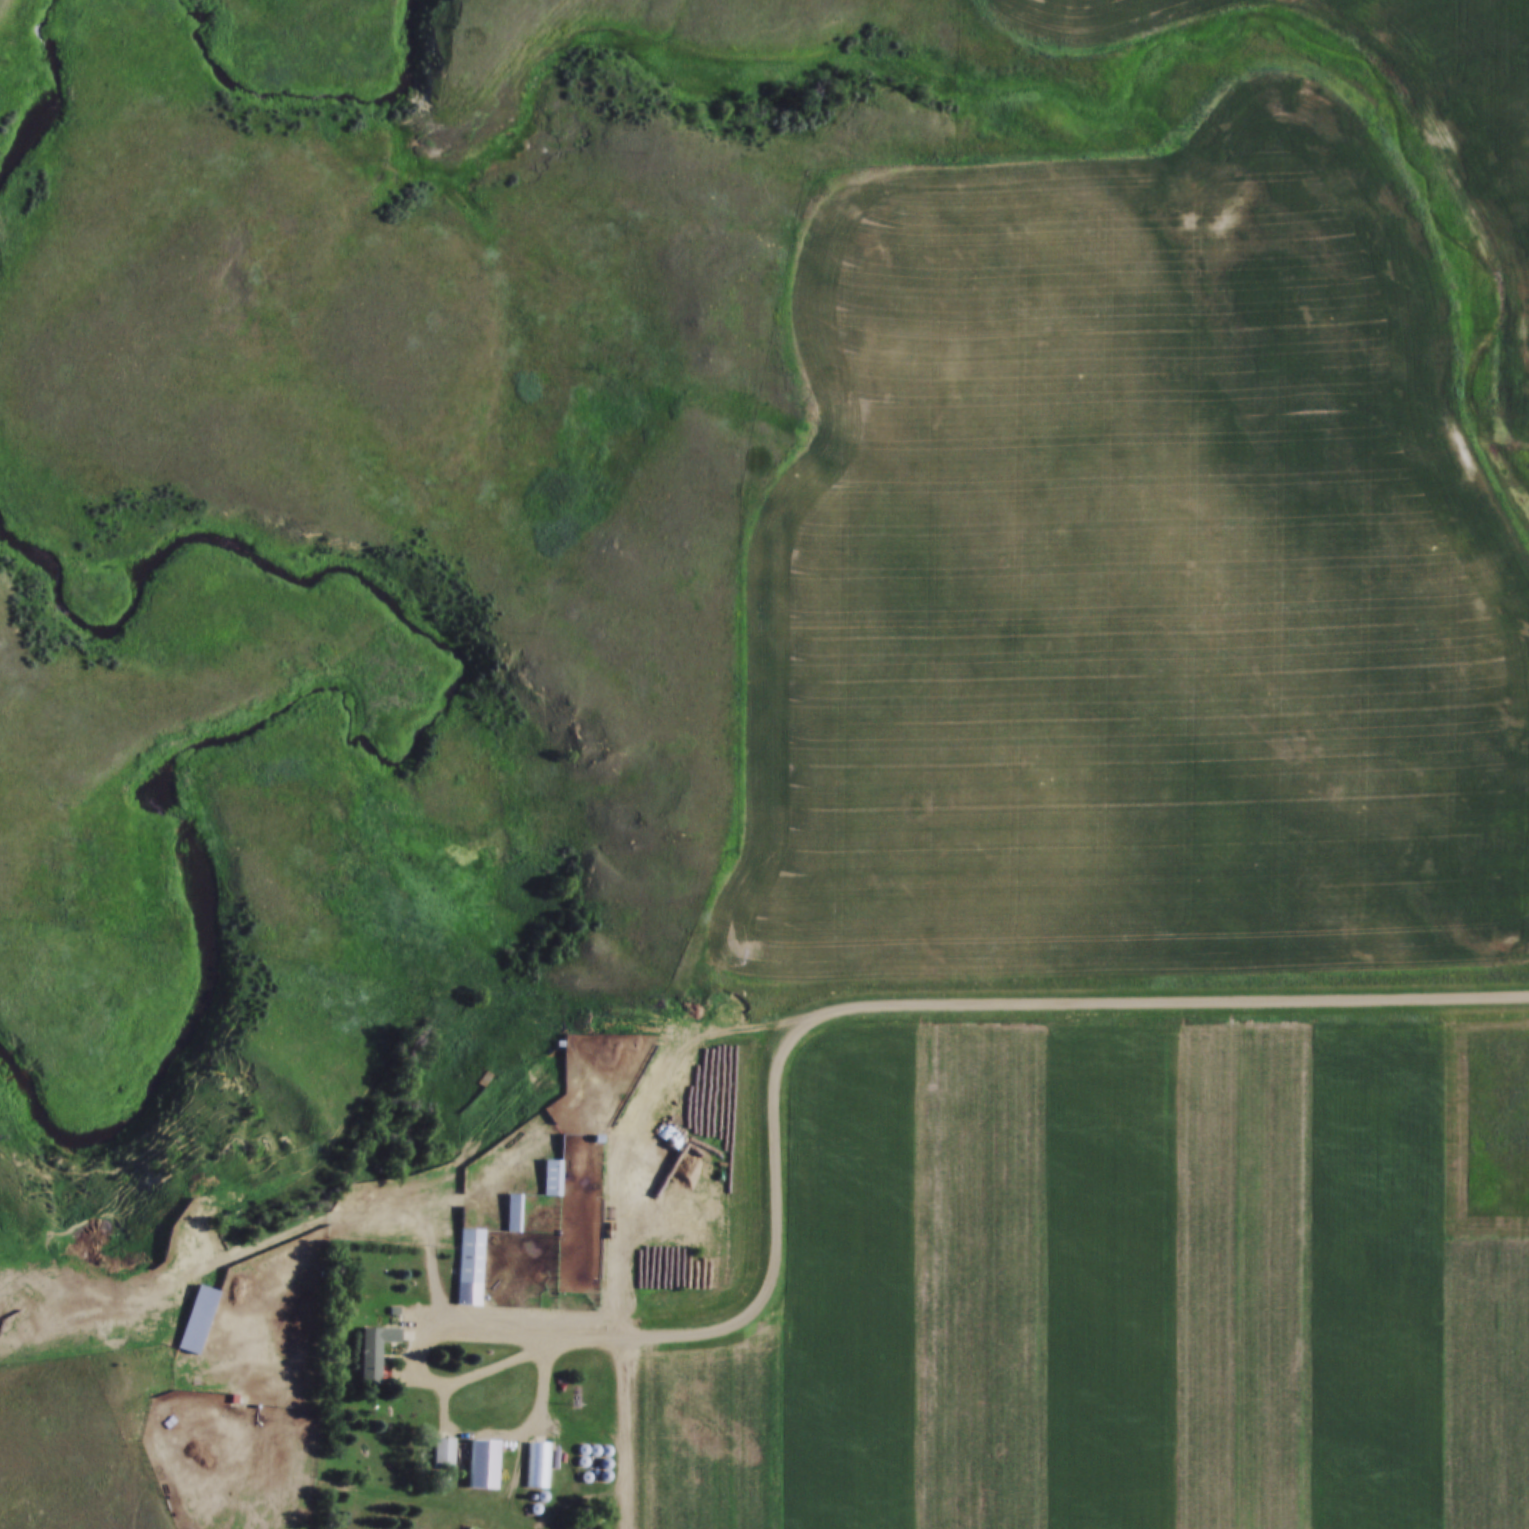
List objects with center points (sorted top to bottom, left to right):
road: (844, 1009)
building: (551, 1176)
building: (513, 1211)
building: (469, 1265)
building: (194, 1316)
building: (373, 1349)
building: (443, 1452)
building: (483, 1462)
building: (540, 1463)

